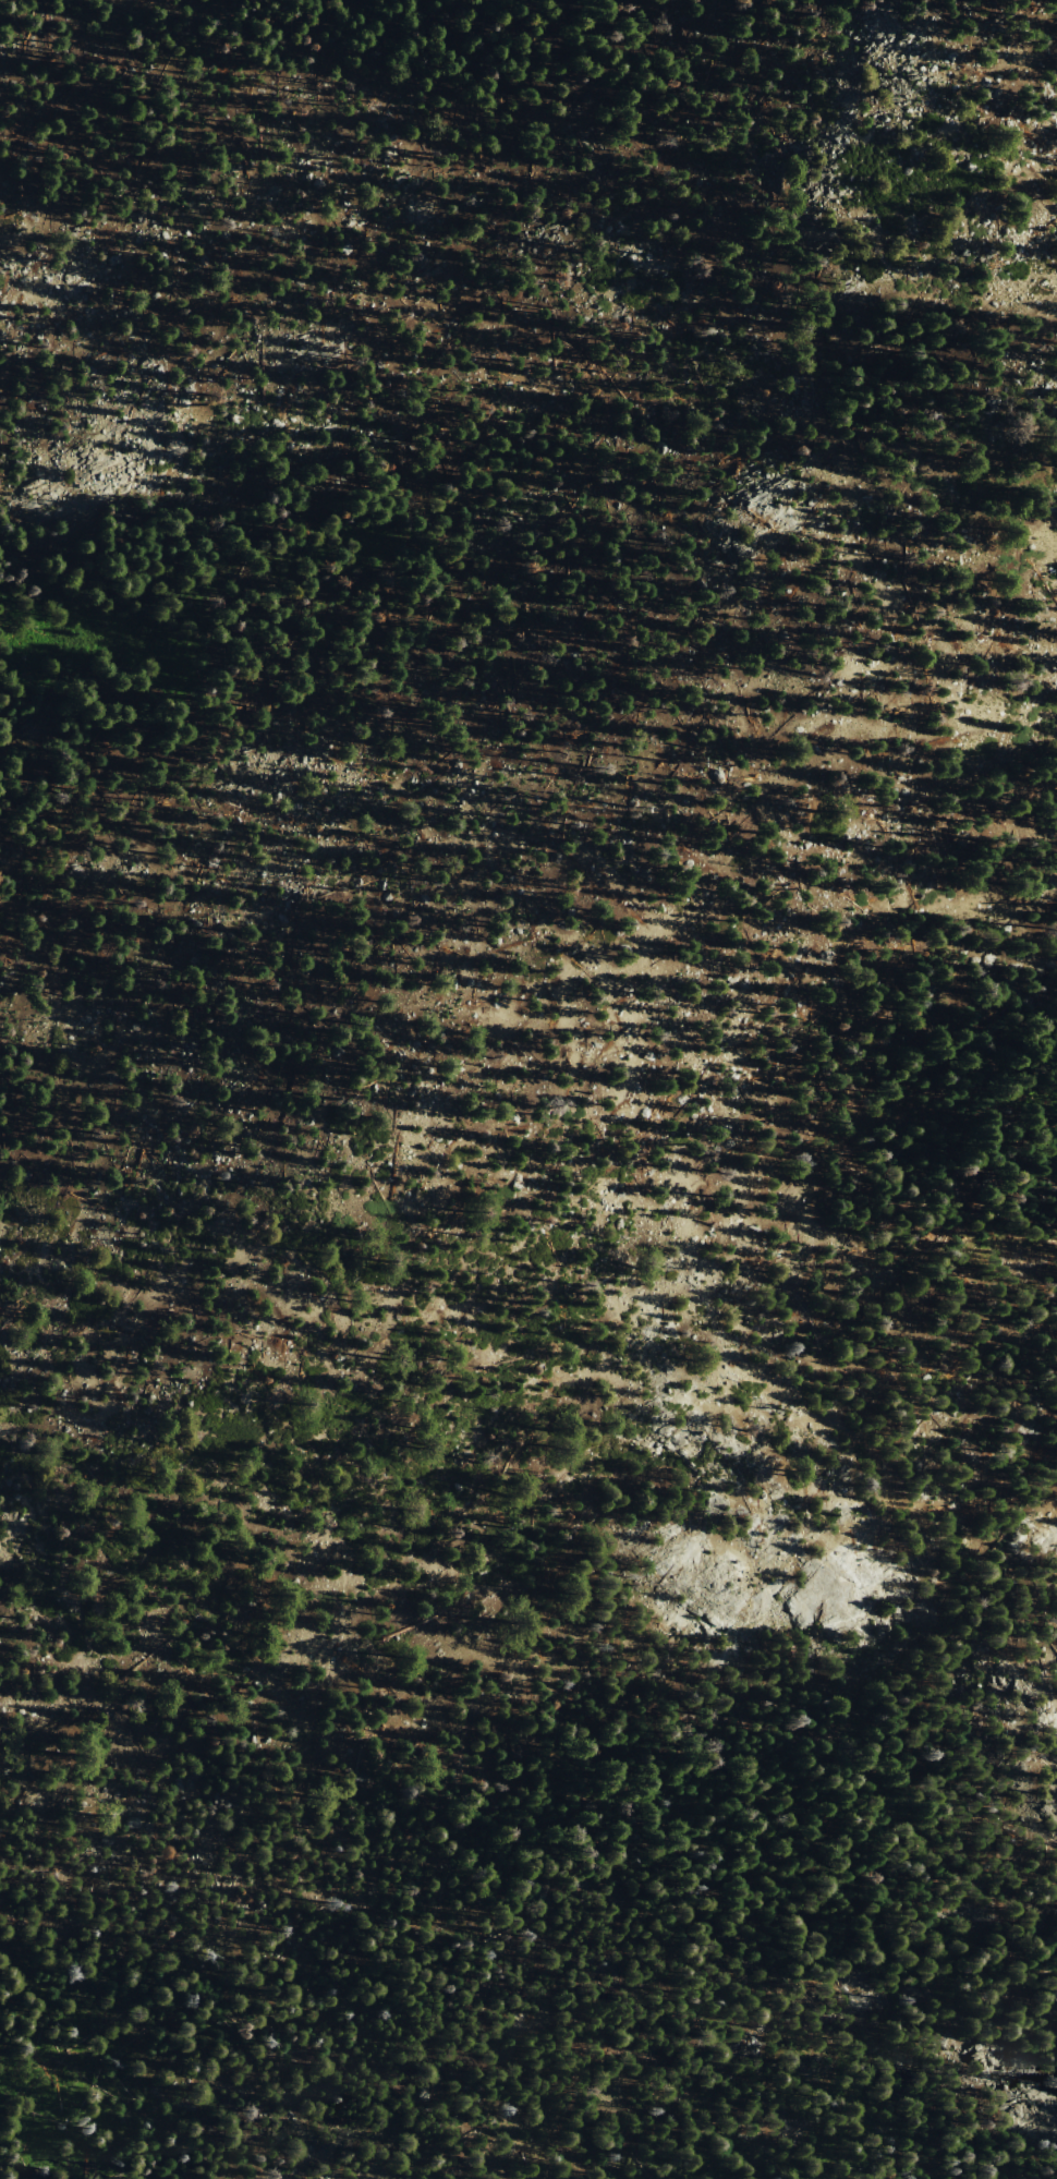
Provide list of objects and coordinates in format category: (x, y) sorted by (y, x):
road: (1056, 2178)

